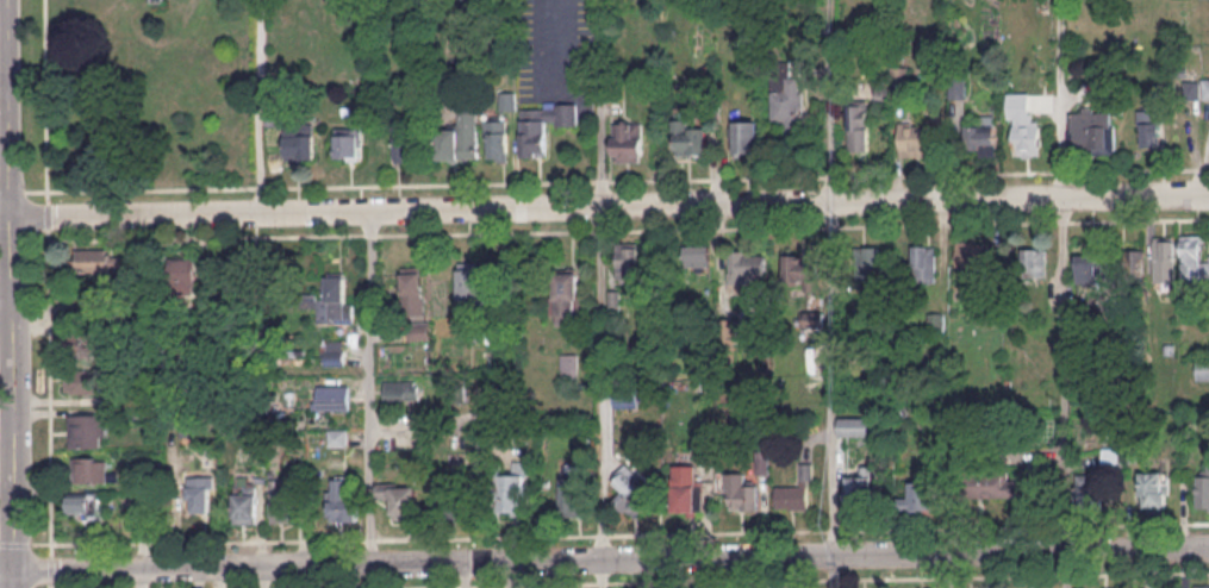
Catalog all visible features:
building: (1196, 86)
road: (1061, 98)
road: (45, 99)
building: (507, 100)
building: (787, 100)
road: (833, 100)
road: (597, 101)
road: (260, 105)
building: (1024, 107)
road: (6, 108)
building: (543, 125)
building: (859, 125)
building: (1149, 125)
building: (1089, 132)
building: (460, 137)
building: (690, 137)
building: (746, 137)
building: (1028, 138)
building: (404, 139)
building: (498, 139)
building: (912, 139)
building: (985, 139)
building: (628, 140)
building: (349, 142)
building: (300, 143)
road: (1138, 169)
road: (1060, 170)
road: (949, 173)
road: (834, 175)
road: (716, 179)
road: (598, 181)
road: (306, 184)
road: (13, 189)
road: (607, 204)
road: (46, 214)
road: (1139, 219)
road: (1062, 221)
road: (948, 223)
road: (833, 225)
road: (715, 227)
road: (597, 229)
road: (482, 231)
road: (369, 233)
road: (205, 237)
building: (972, 254)
building: (697, 255)
building: (1194, 257)
building: (93, 259)
building: (1164, 259)
building: (628, 261)
building: (1034, 262)
building: (866, 263)
building: (923, 263)
building: (1134, 264)
building: (748, 265)
building: (1091, 268)
building: (804, 269)
building: (185, 275)
building: (469, 282)
building: (413, 292)
road: (6, 296)
building: (568, 298)
building: (336, 302)
building: (811, 318)
building: (936, 321)
building: (730, 329)
building: (422, 330)
building: (91, 342)
building: (336, 352)
building: (569, 364)
building: (1202, 369)
road: (1066, 374)
road: (834, 377)
building: (86, 380)
road: (599, 382)
road: (370, 384)
building: (403, 389)
road: (49, 390)
building: (334, 396)
road: (12, 401)
road: (437, 419)
building: (855, 426)
building: (86, 430)
building: (88, 469)
building: (993, 483)
building: (686, 487)
building: (860, 488)
building: (1086, 489)
building: (1154, 489)
building: (797, 490)
building: (1203, 490)
building: (513, 492)
building: (742, 492)
building: (197, 493)
building: (634, 493)
building: (573, 495)
building: (921, 495)
building: (448, 498)
building: (279, 500)
building: (342, 501)
building: (404, 501)
building: (82, 505)
building: (243, 506)
road: (1149, 523)
road: (1072, 524)
road: (951, 526)
road: (836, 528)
road: (718, 531)
road: (602, 533)
road: (485, 536)
road: (368, 538)
road: (197, 540)
road: (15, 544)
road: (604, 558)
road: (51, 569)
road: (1071, 569)
road: (835, 571)
road: (1147, 573)
road: (1073, 574)
road: (954, 575)
road: (834, 576)
road: (142, 578)
road: (568, 582)
road: (51, 586)
building: (1201, 586)

